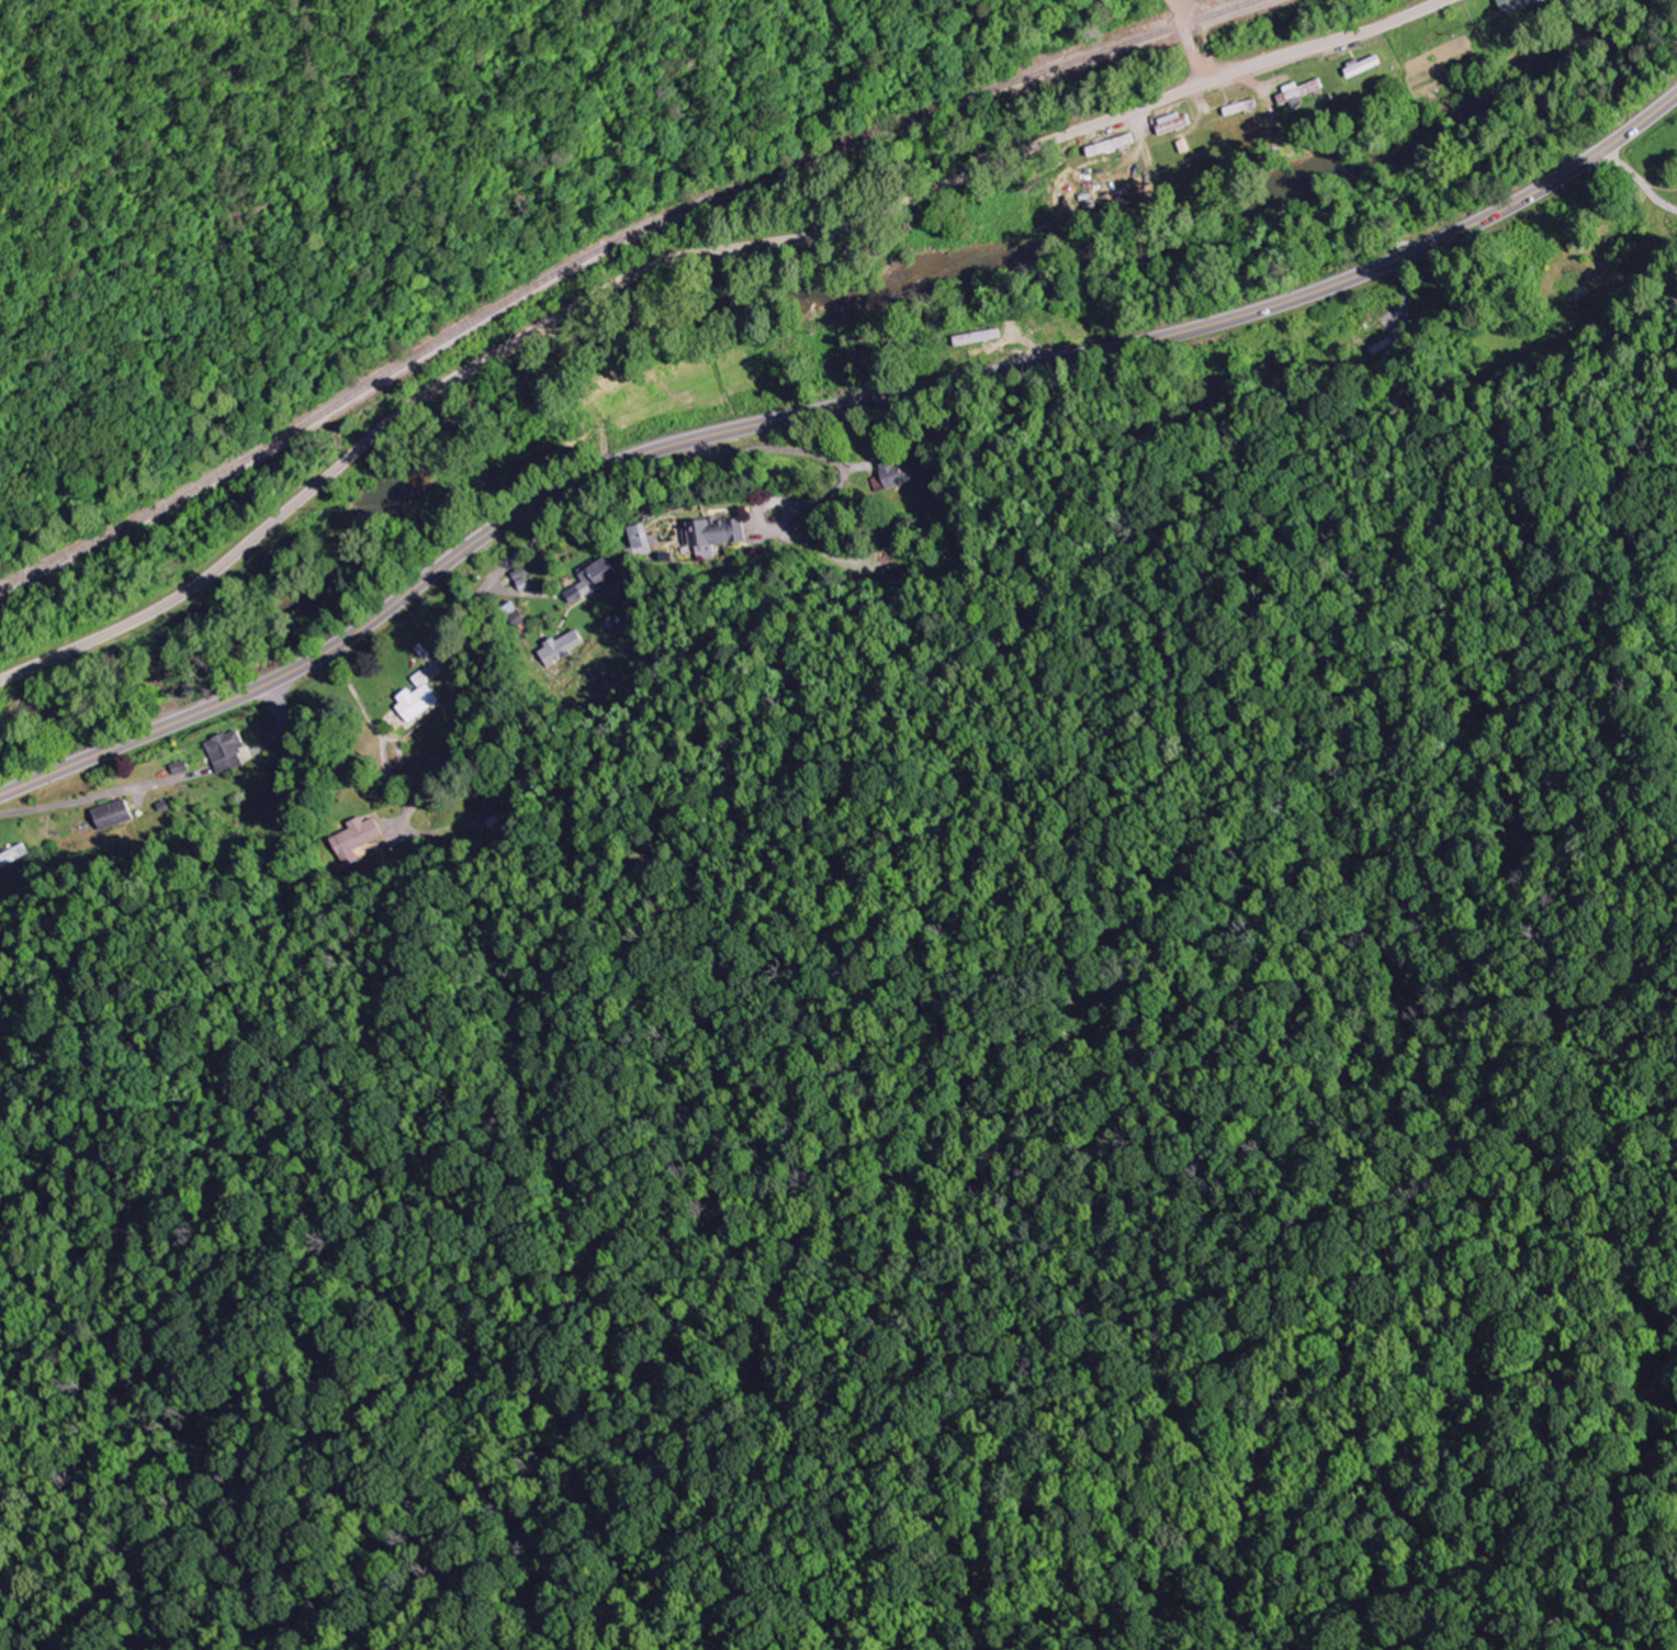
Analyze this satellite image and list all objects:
building: (1513, 3)
road: (1190, 37)
building: (1304, 93)
building: (1175, 124)
railway: (605, 247)
road: (680, 257)
road: (824, 411)
road: (797, 451)
building: (897, 473)
building: (712, 537)
building: (643, 540)
building: (594, 581)
road: (459, 641)
building: (562, 648)
building: (417, 705)
building: (227, 752)
road: (239, 760)
road: (71, 805)
building: (113, 816)
building: (356, 840)
building: (14, 857)

